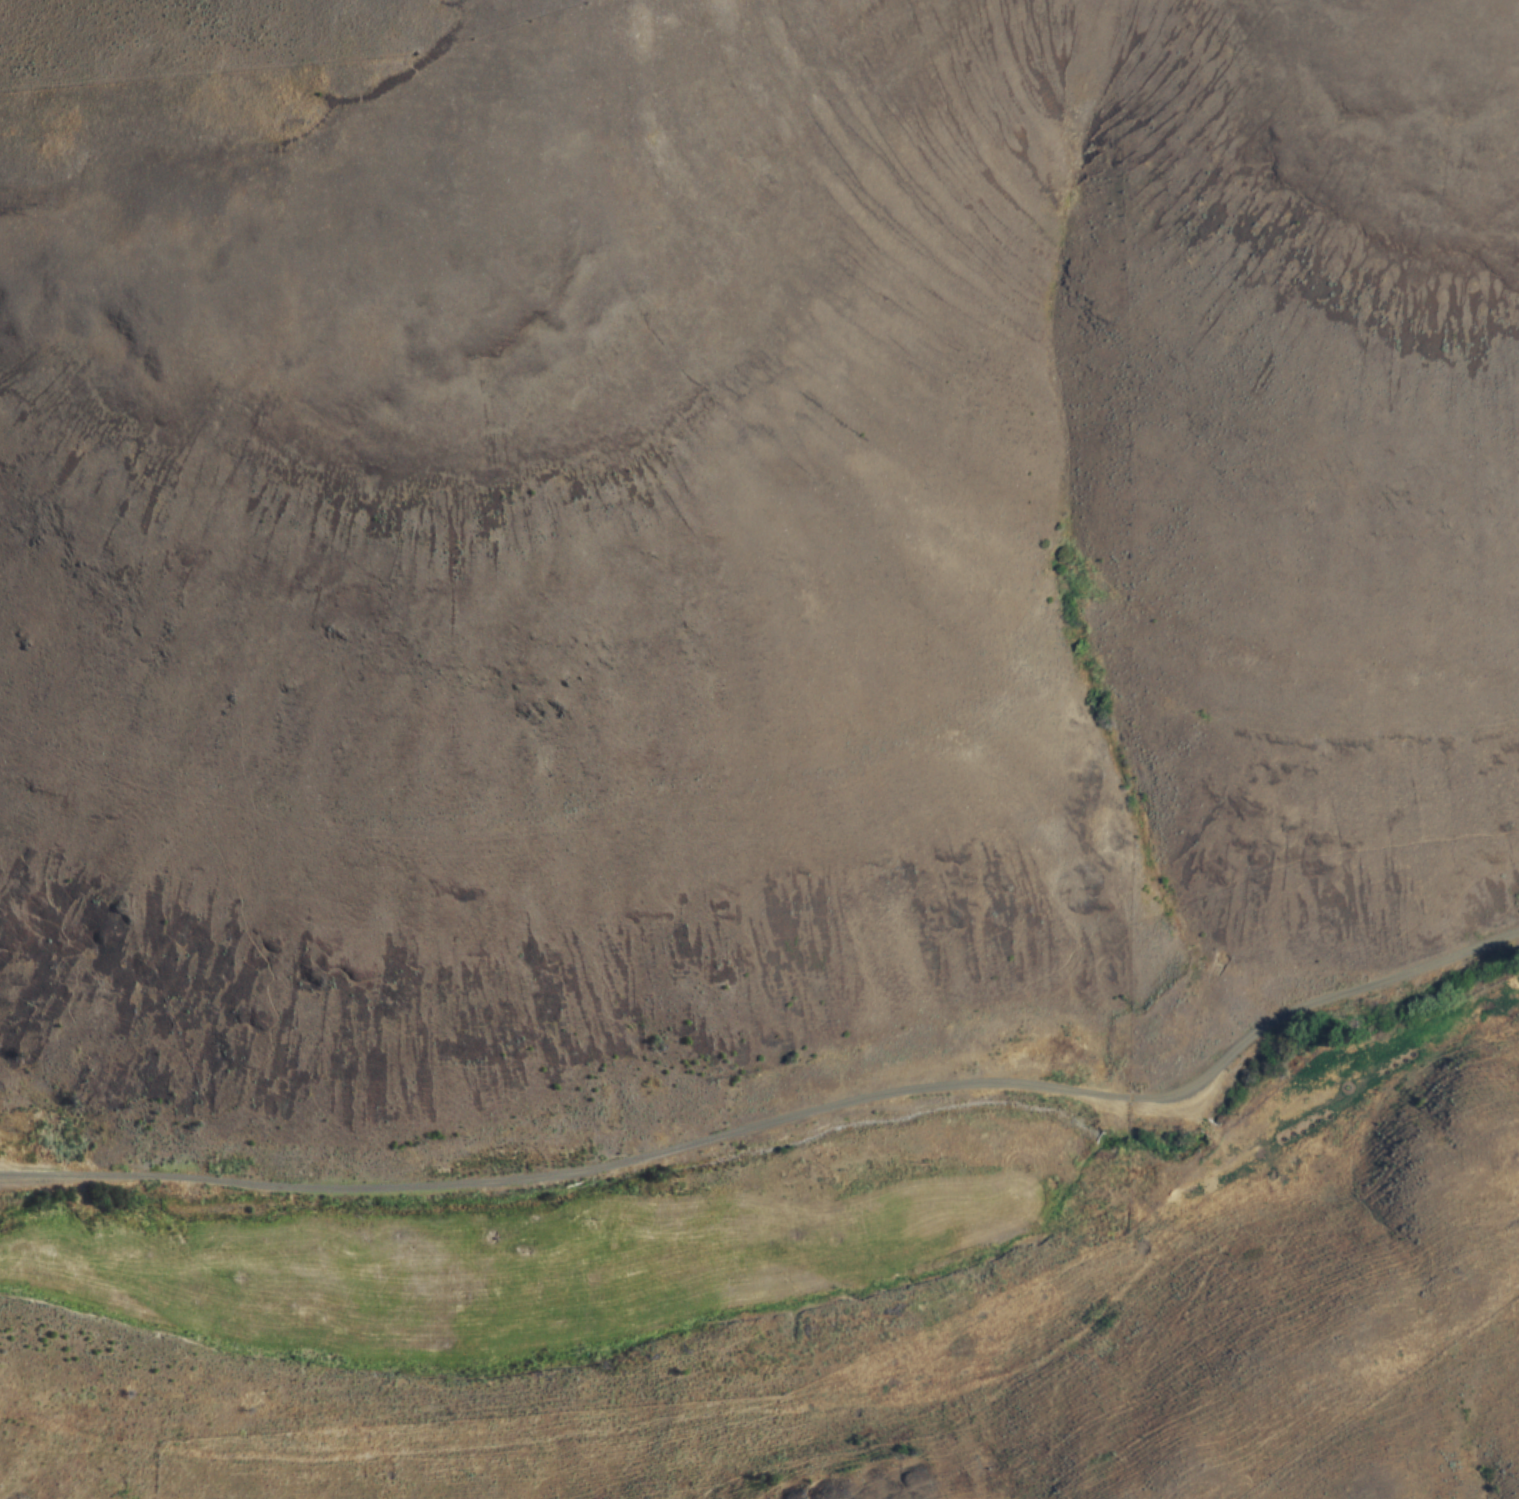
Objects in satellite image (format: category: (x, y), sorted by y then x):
road: (779, 1145)

